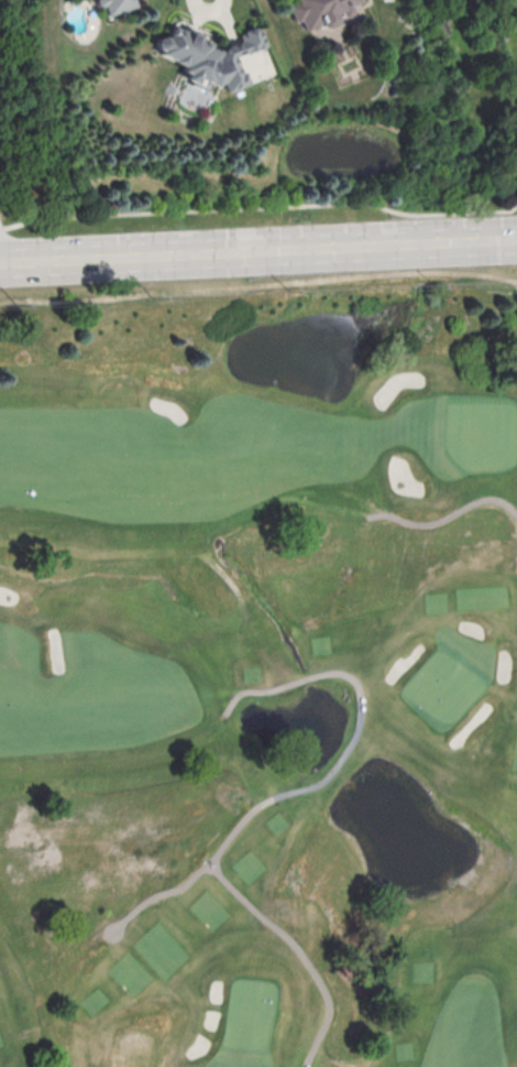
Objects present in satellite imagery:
building: (117, 4)
building: (319, 13)
building: (208, 59)
road: (260, 207)
road: (258, 252)
road: (446, 516)
park: (258, 676)
road: (262, 805)
road: (213, 865)
road: (151, 899)

